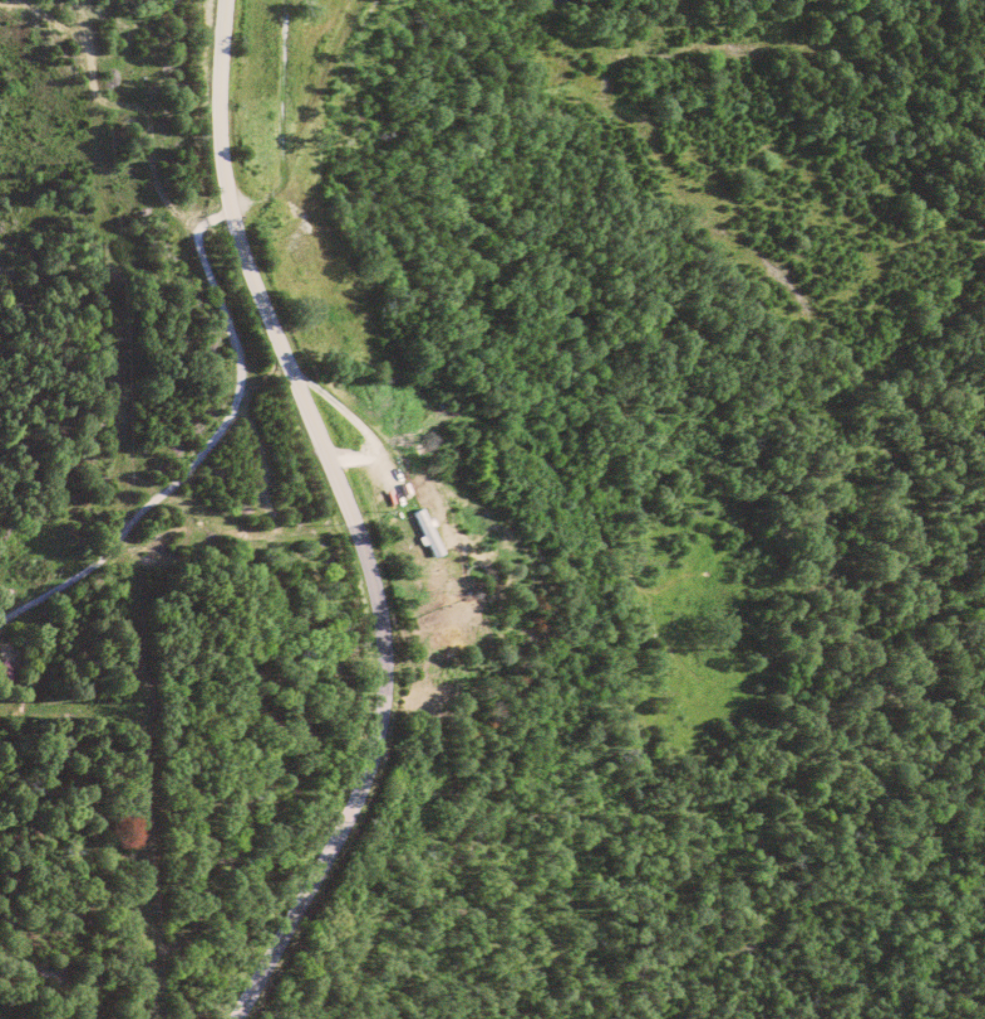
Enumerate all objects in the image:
road: (207, 449)
road: (382, 460)
road: (349, 515)
building: (429, 531)

